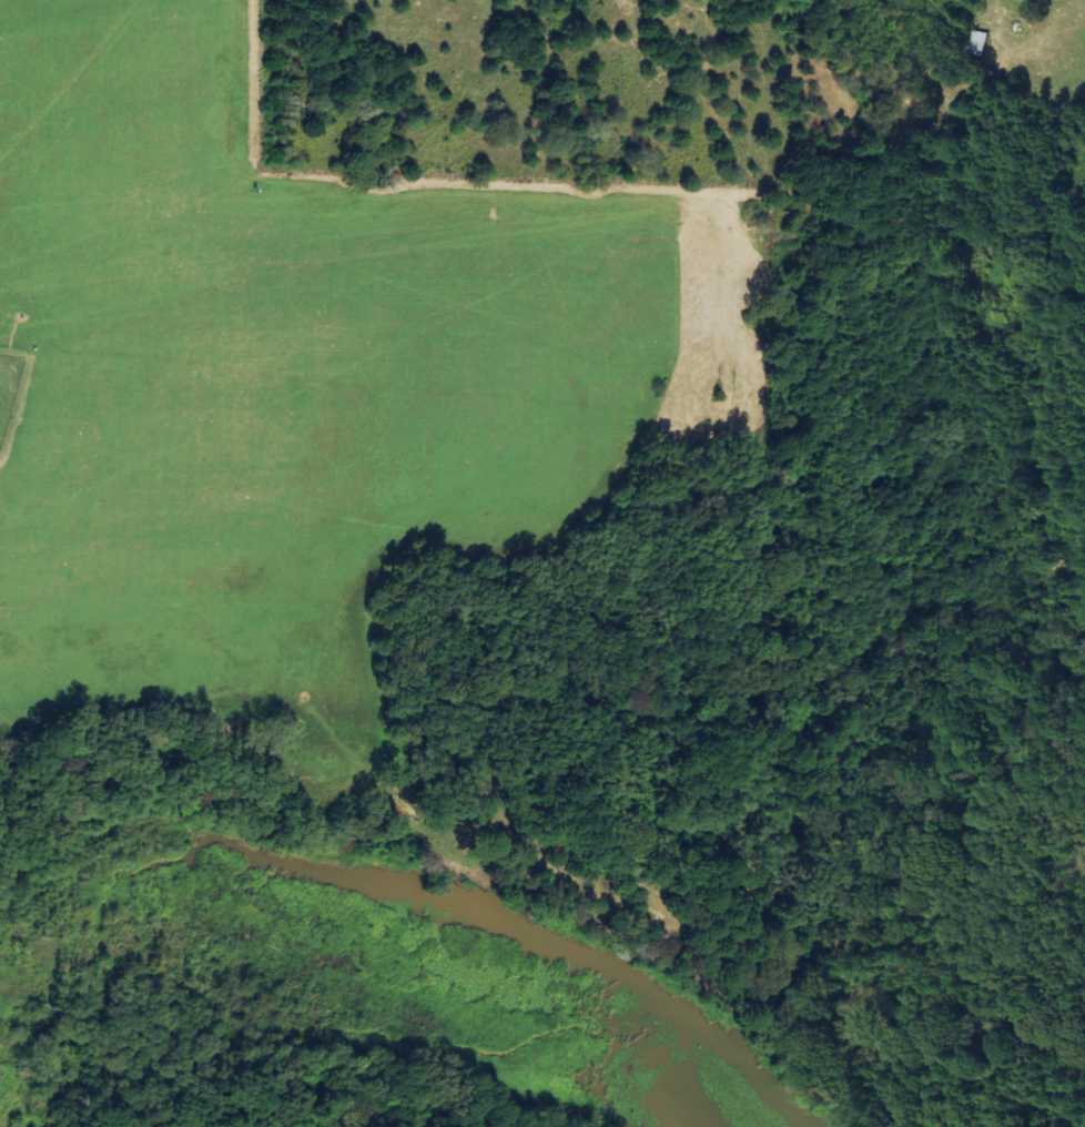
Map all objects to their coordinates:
building: (977, 43)

